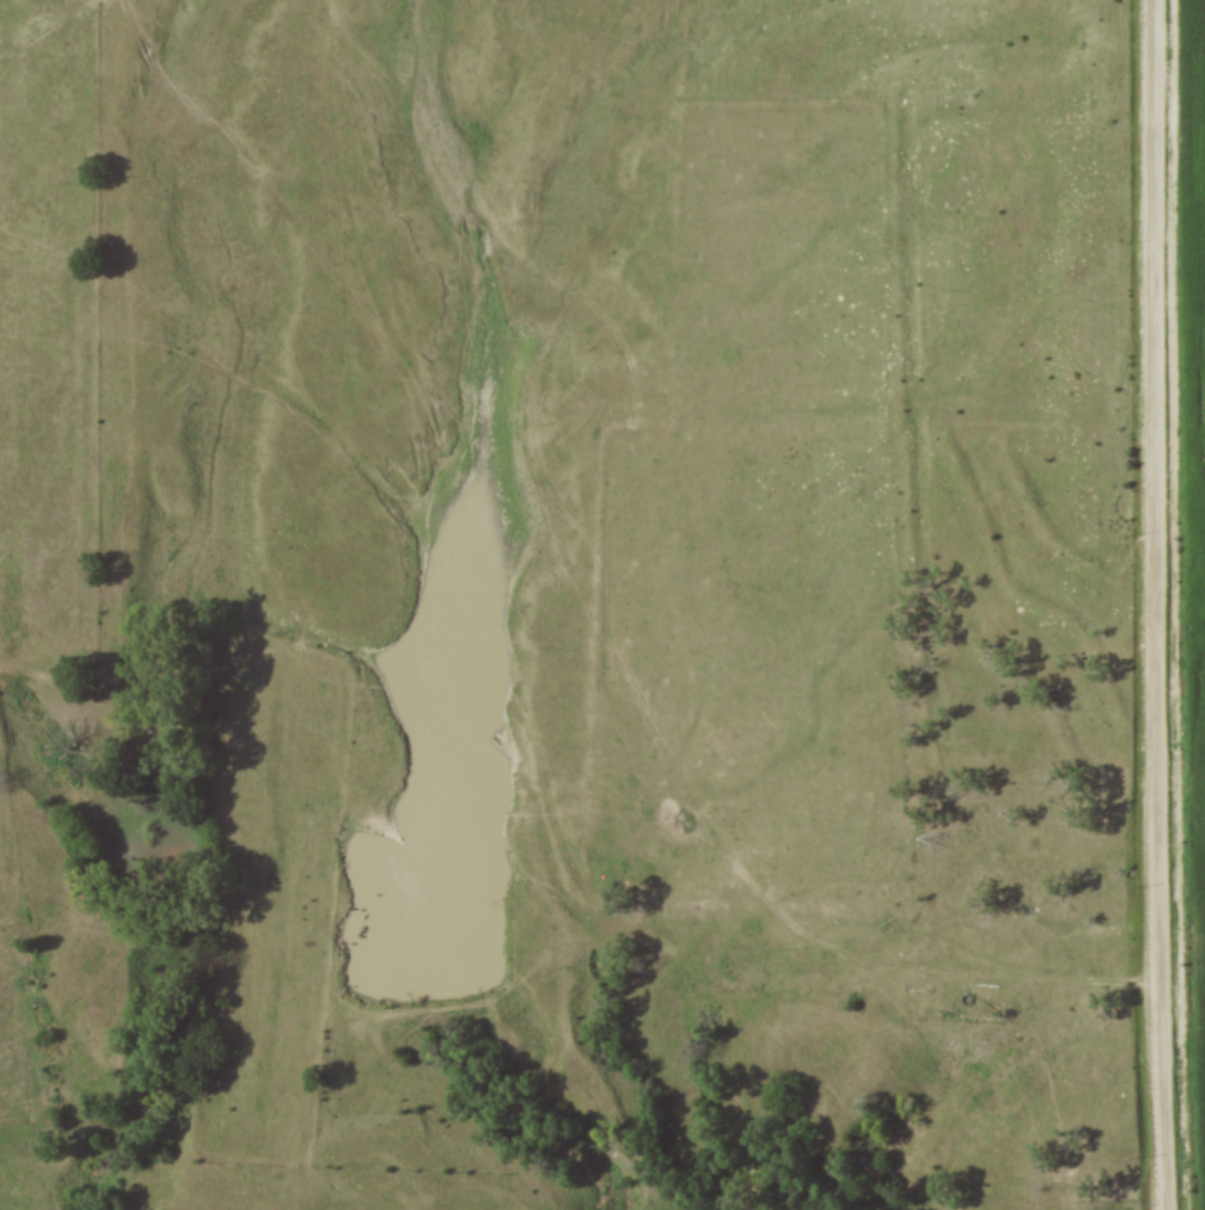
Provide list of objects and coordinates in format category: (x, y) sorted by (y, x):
road: (1155, 605)

